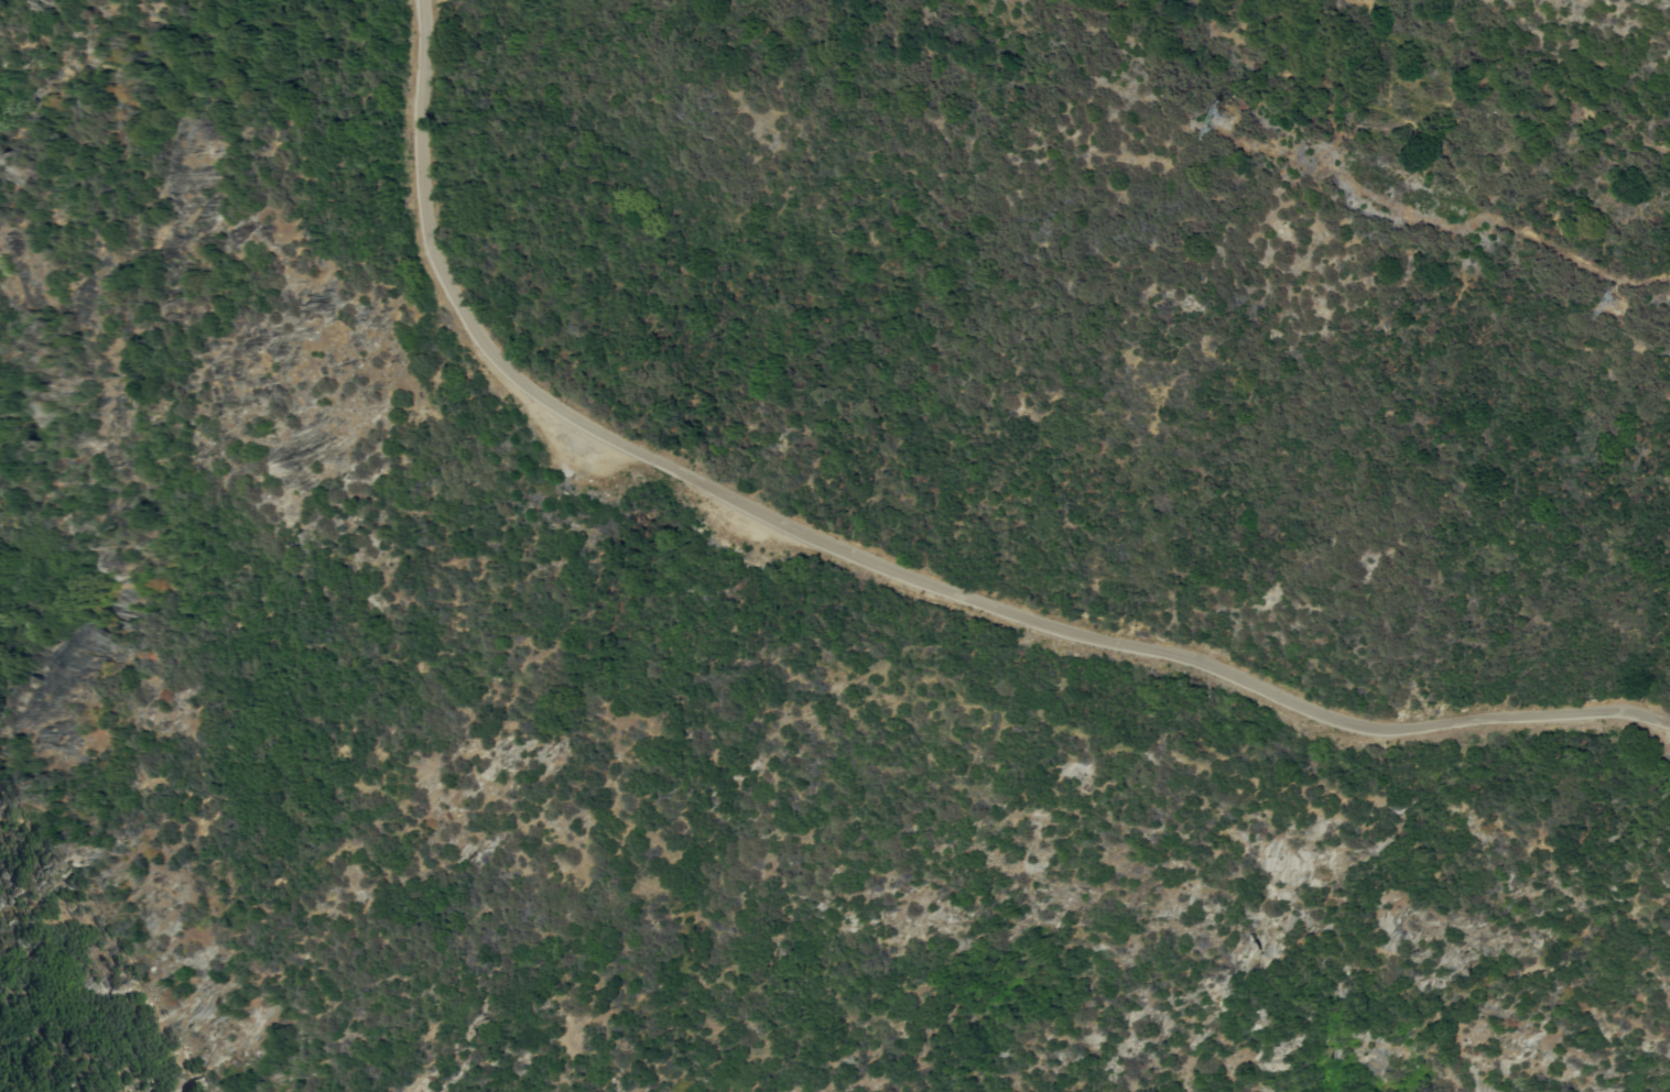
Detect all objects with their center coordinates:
power tower: (1238, 118)
power tower: (1601, 297)
road: (880, 558)

